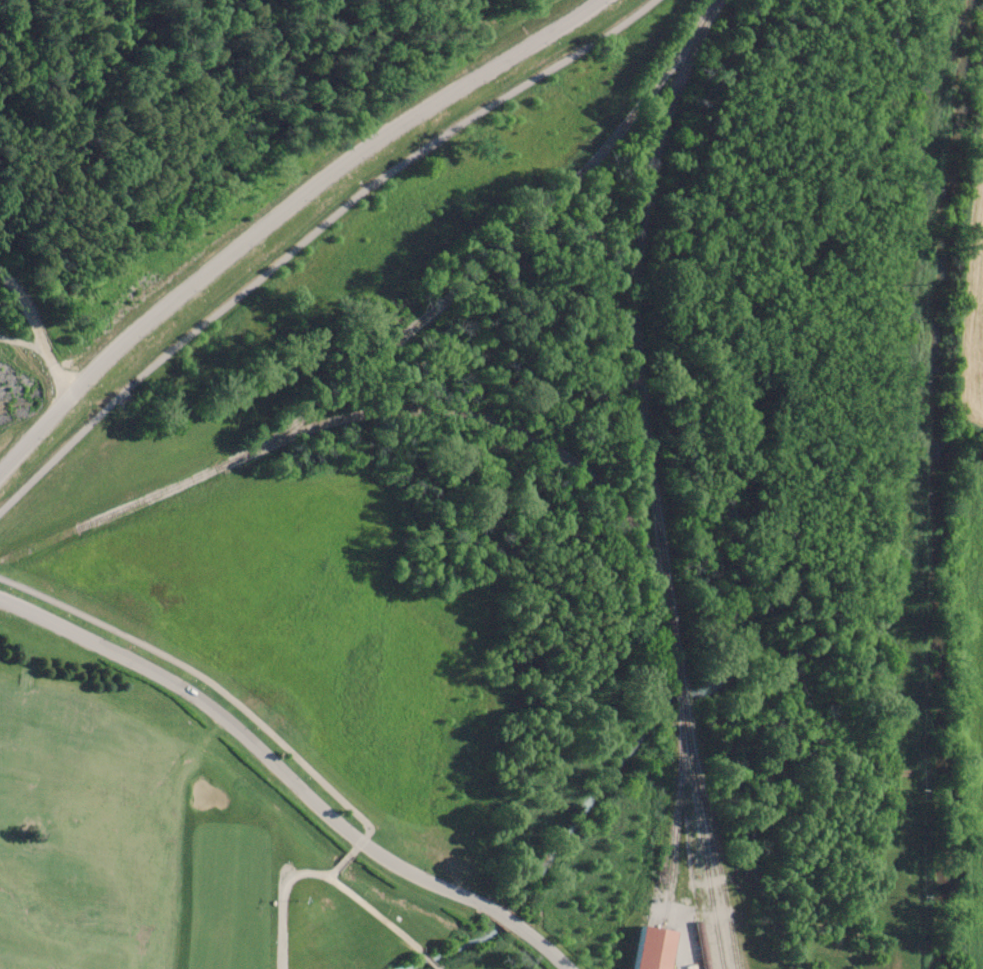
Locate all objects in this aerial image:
railway: (694, 51)
road: (276, 210)
road: (310, 234)
road: (38, 328)
railway: (634, 366)
river: (937, 483)
railway: (903, 698)
road: (273, 735)
road: (253, 746)
railway: (700, 801)
railway: (685, 826)
park: (125, 829)
railway: (665, 858)
railway: (705, 862)
railway: (669, 886)
road: (281, 899)
road: (501, 914)
road: (538, 941)
building: (652, 948)
road: (428, 960)
road: (435, 967)

